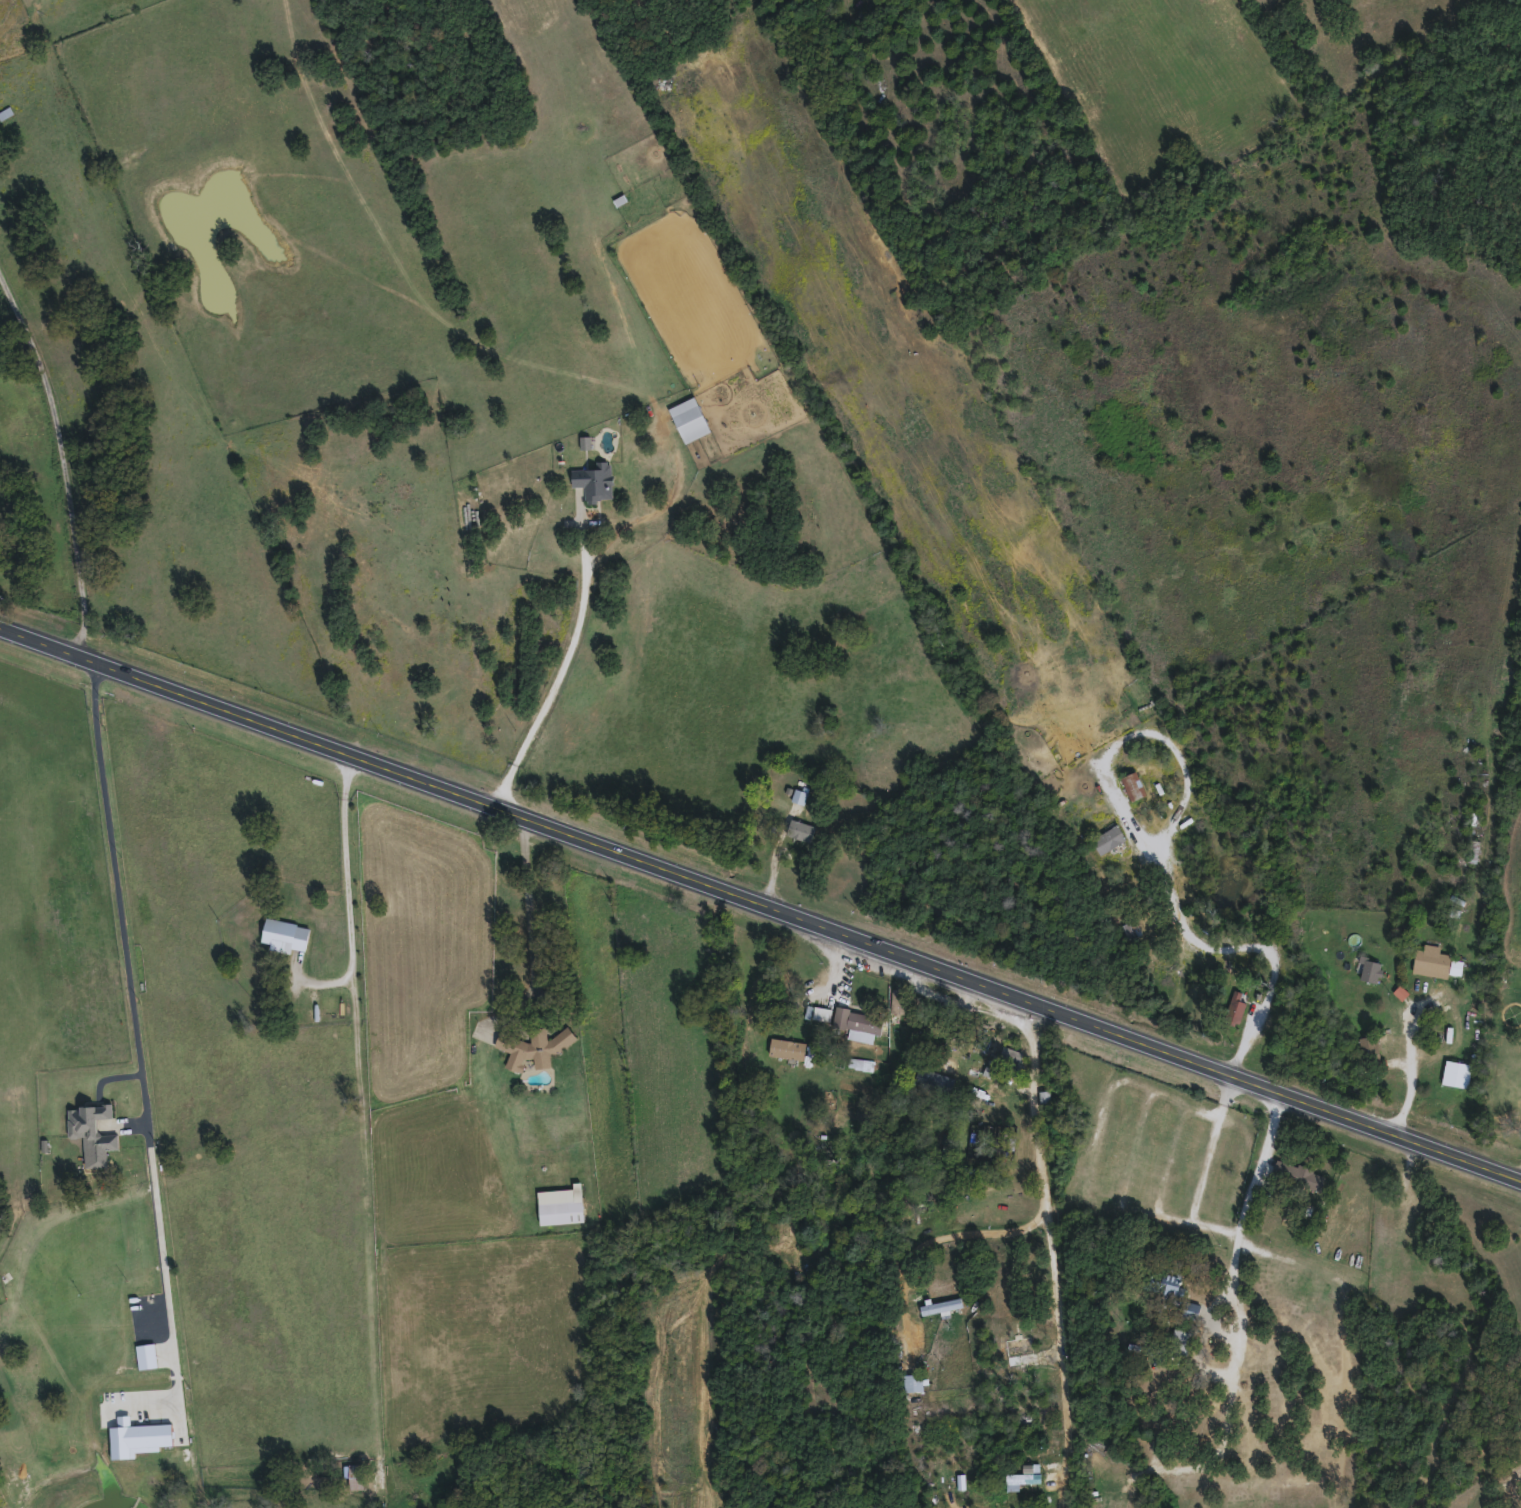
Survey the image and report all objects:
building: (690, 418)
road: (61, 460)
building: (595, 480)
road: (562, 668)
building: (1134, 785)
building: (798, 795)
building: (801, 829)
building: (1109, 838)
building: (1473, 850)
road: (1157, 855)
road: (1019, 874)
road: (350, 897)
road: (527, 902)
road: (761, 903)
building: (1132, 929)
building: (285, 933)
building: (1436, 961)
building: (1371, 969)
road: (838, 971)
building: (899, 1004)
building: (1234, 1011)
building: (865, 1023)
road: (142, 1030)
building: (1370, 1046)
building: (533, 1047)
building: (788, 1048)
building: (1004, 1061)
road: (1411, 1071)
building: (1457, 1073)
building: (933, 1080)
building: (91, 1127)
road: (1517, 1167)
building: (1298, 1175)
building: (561, 1205)
road: (1240, 1219)
road: (947, 1236)
road: (1053, 1253)
building: (1163, 1286)
building: (941, 1306)
building: (1192, 1308)
building: (1180, 1342)
building: (1020, 1349)
building: (913, 1382)
building: (355, 1475)
building: (1023, 1477)

